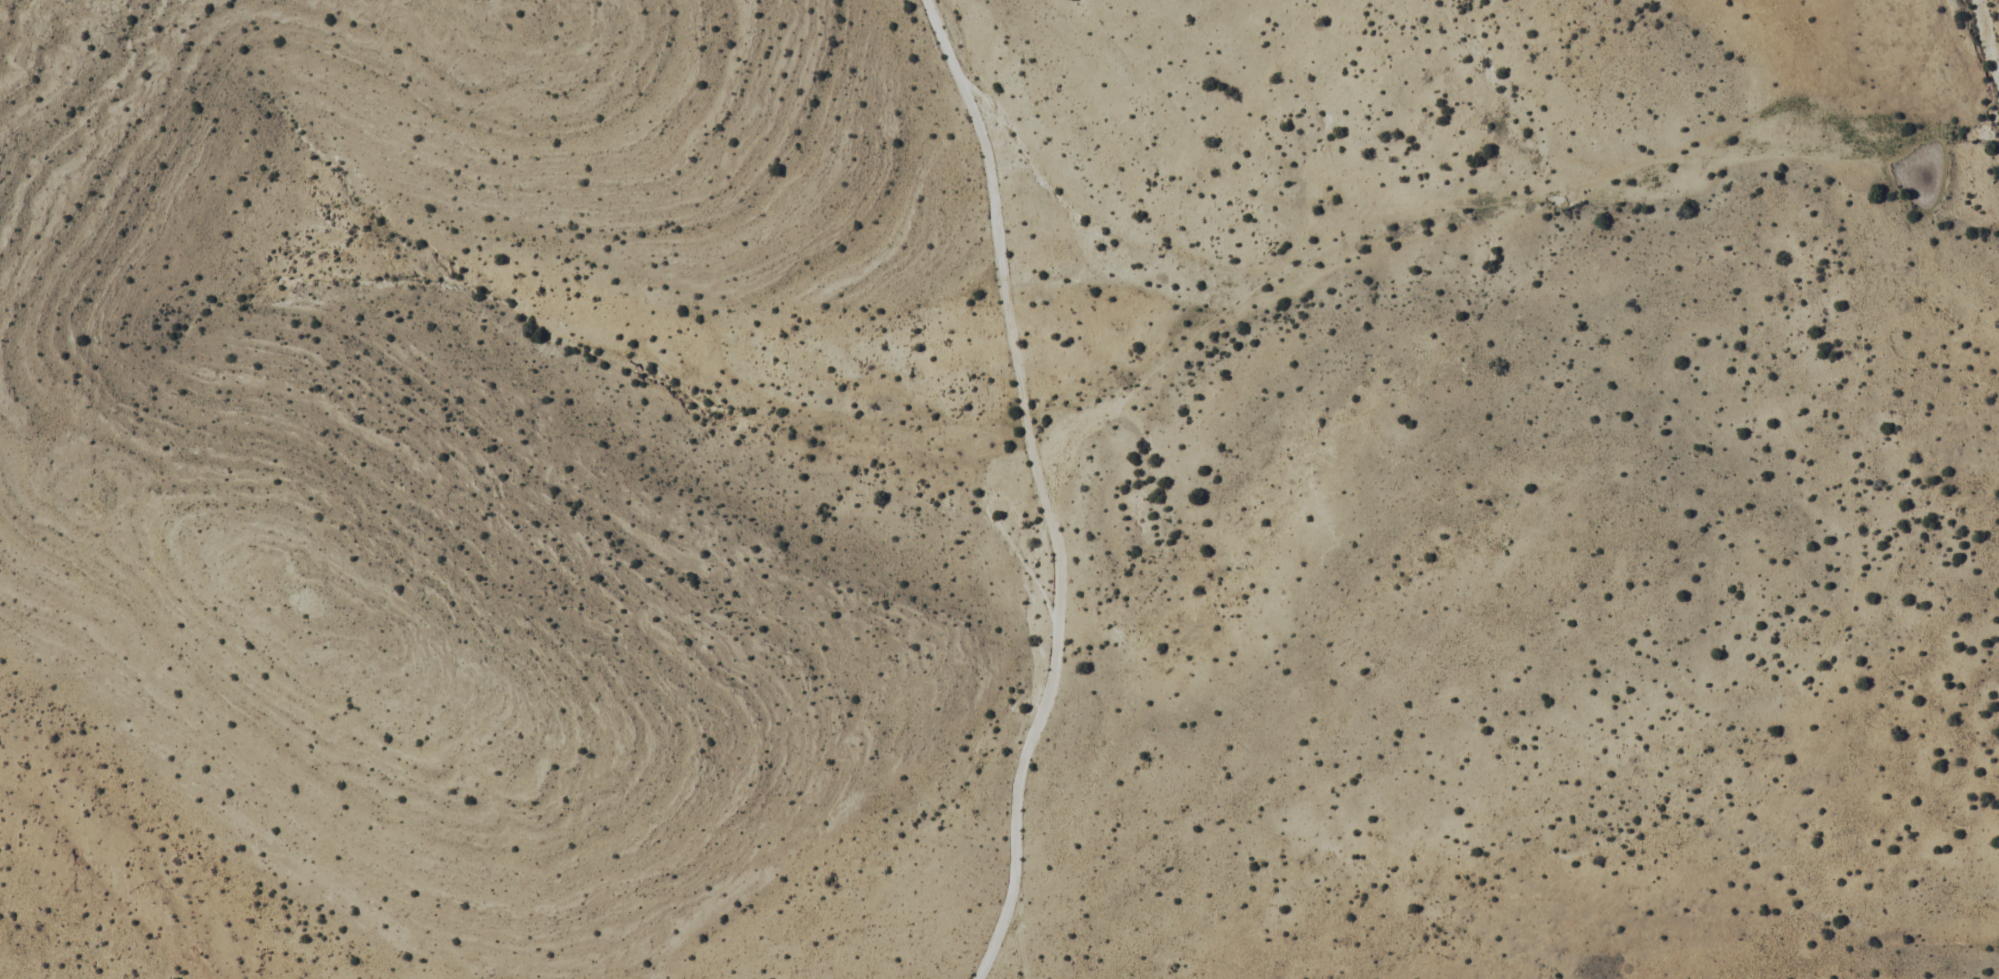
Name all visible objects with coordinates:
road: (1041, 489)
road: (1000, 964)

